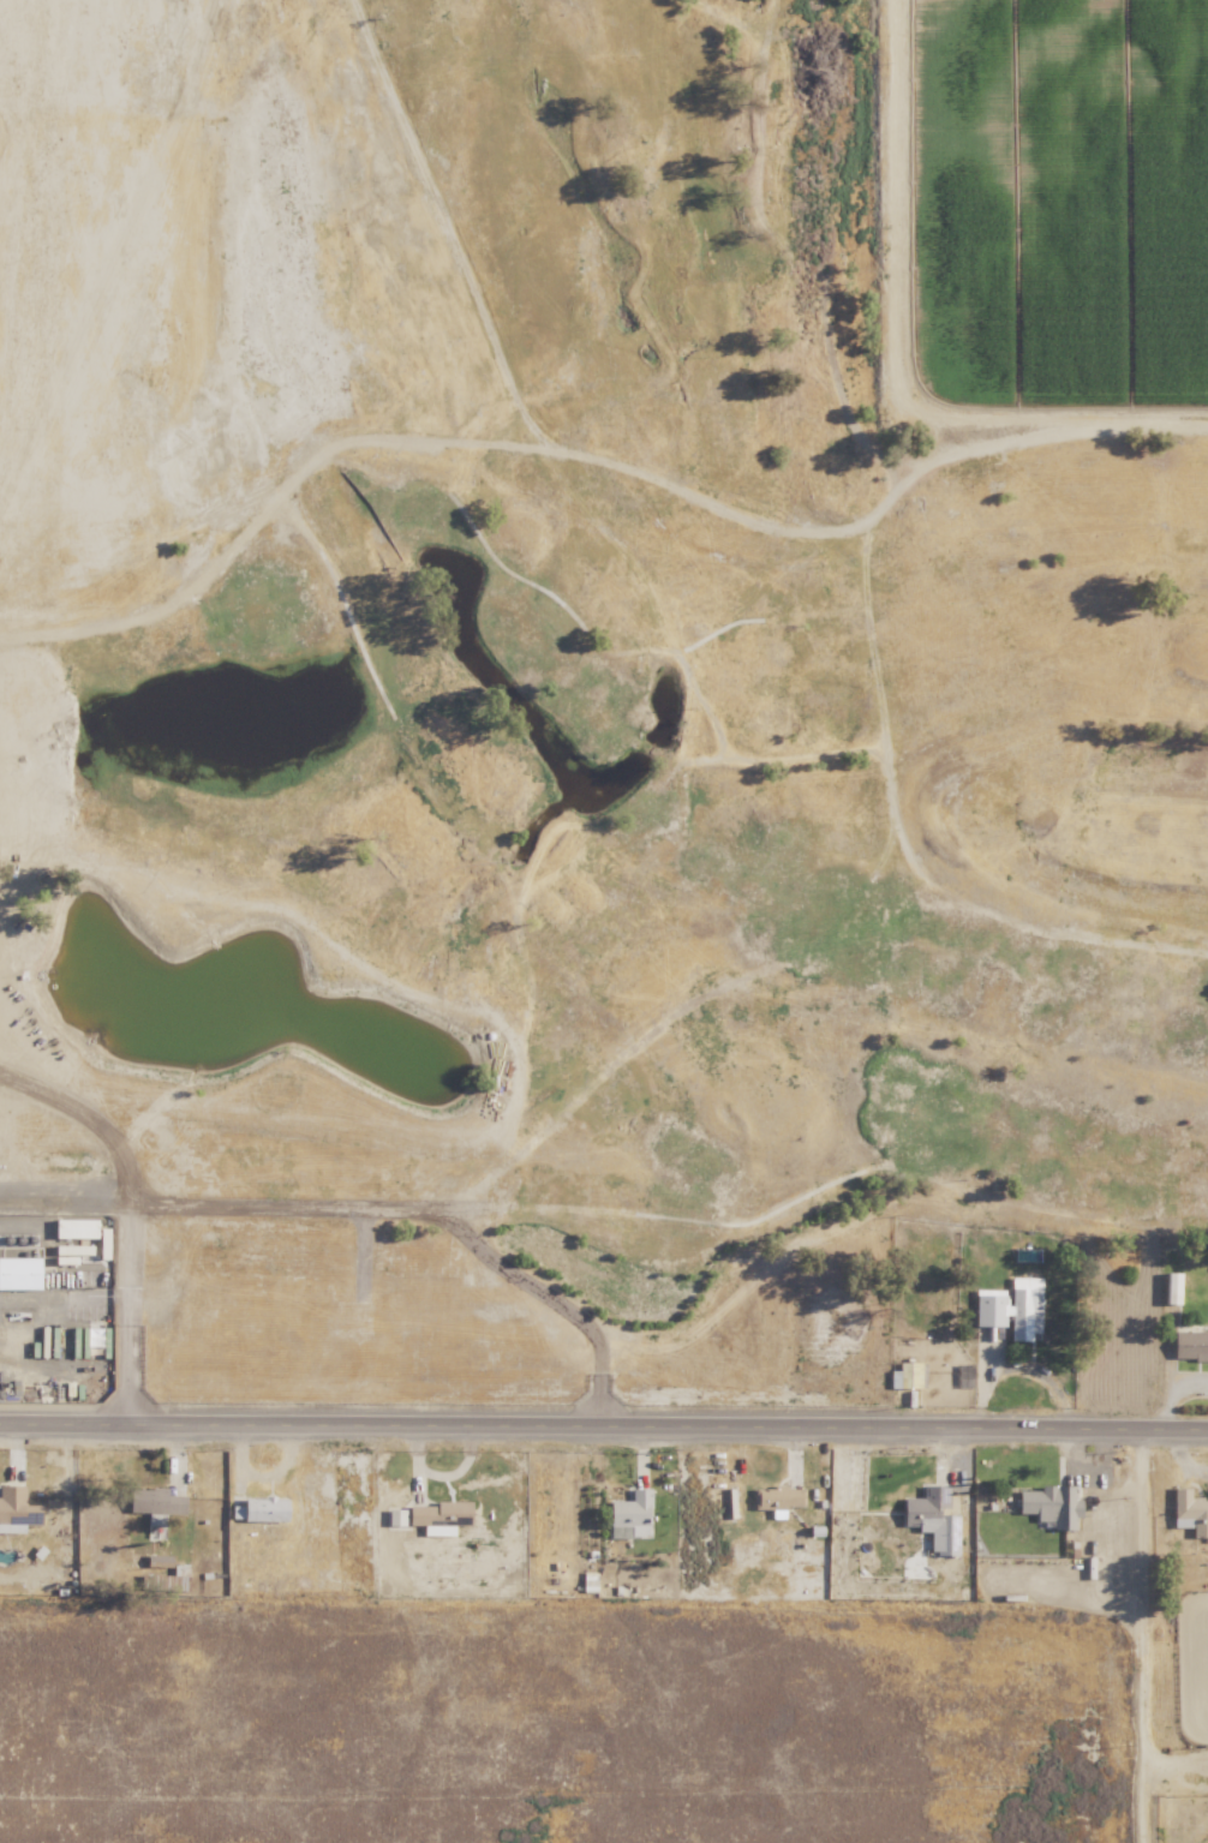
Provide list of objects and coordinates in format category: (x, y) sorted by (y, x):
road: (426, 1205)
road: (124, 1246)
building: (17, 1273)
building: (1009, 1310)
building: (95, 1342)
building: (1189, 1346)
road: (603, 1424)
building: (778, 1497)
building: (1051, 1504)
building: (16, 1509)
building: (259, 1509)
building: (1189, 1512)
building: (439, 1513)
building: (630, 1514)
building: (395, 1516)
building: (156, 1560)
road: (1136, 1593)

